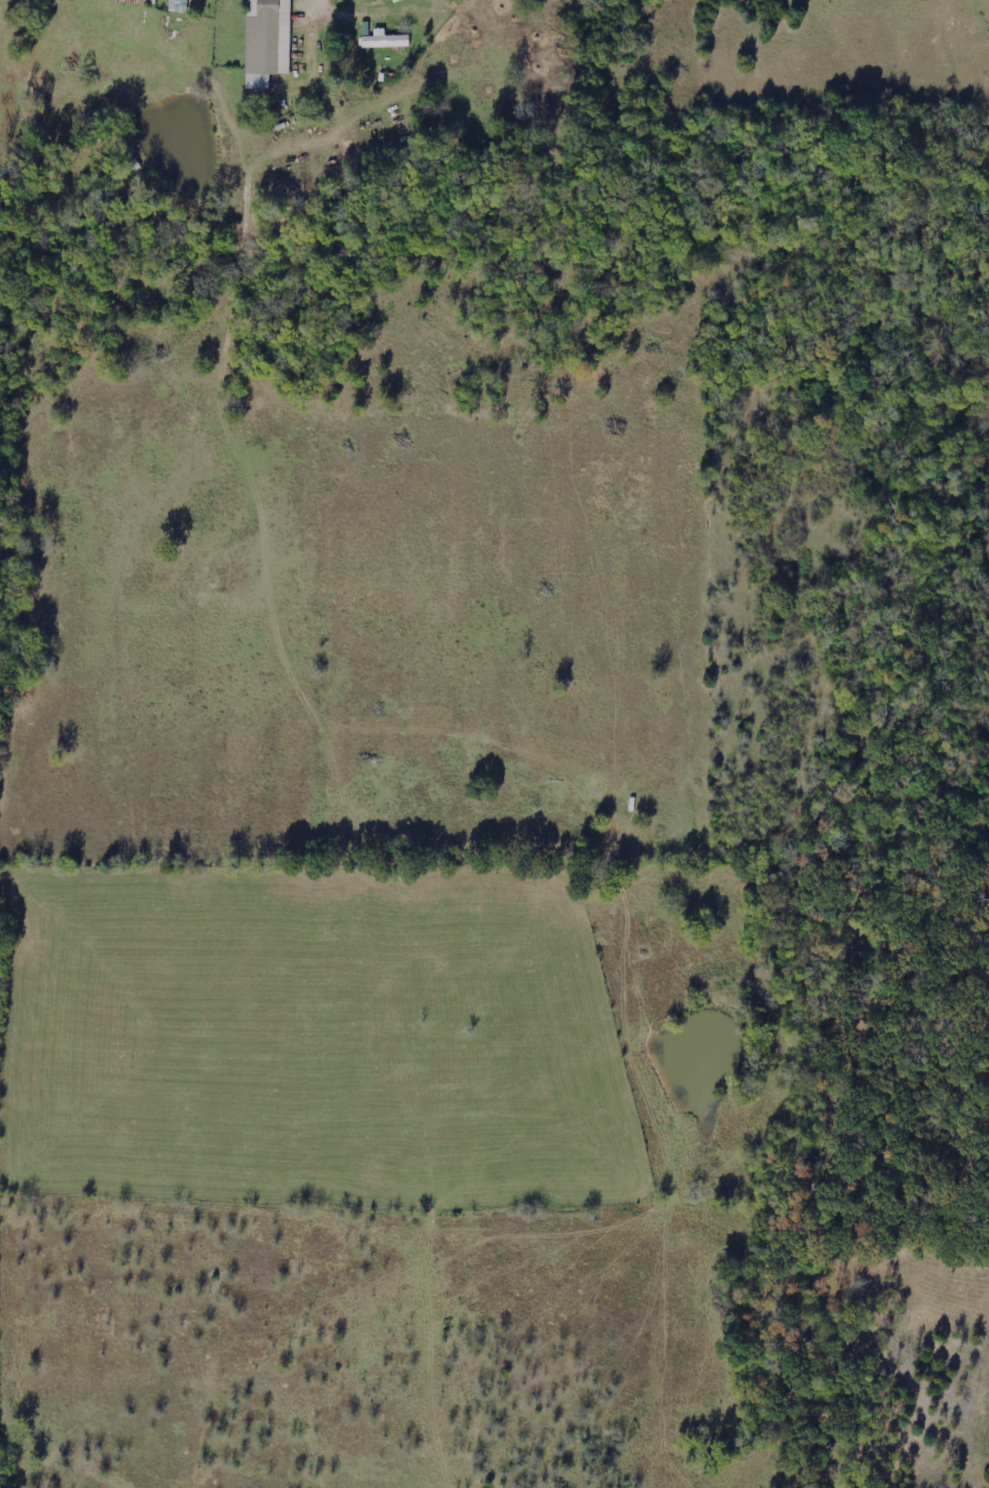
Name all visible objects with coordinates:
building: (384, 39)
building: (267, 41)

